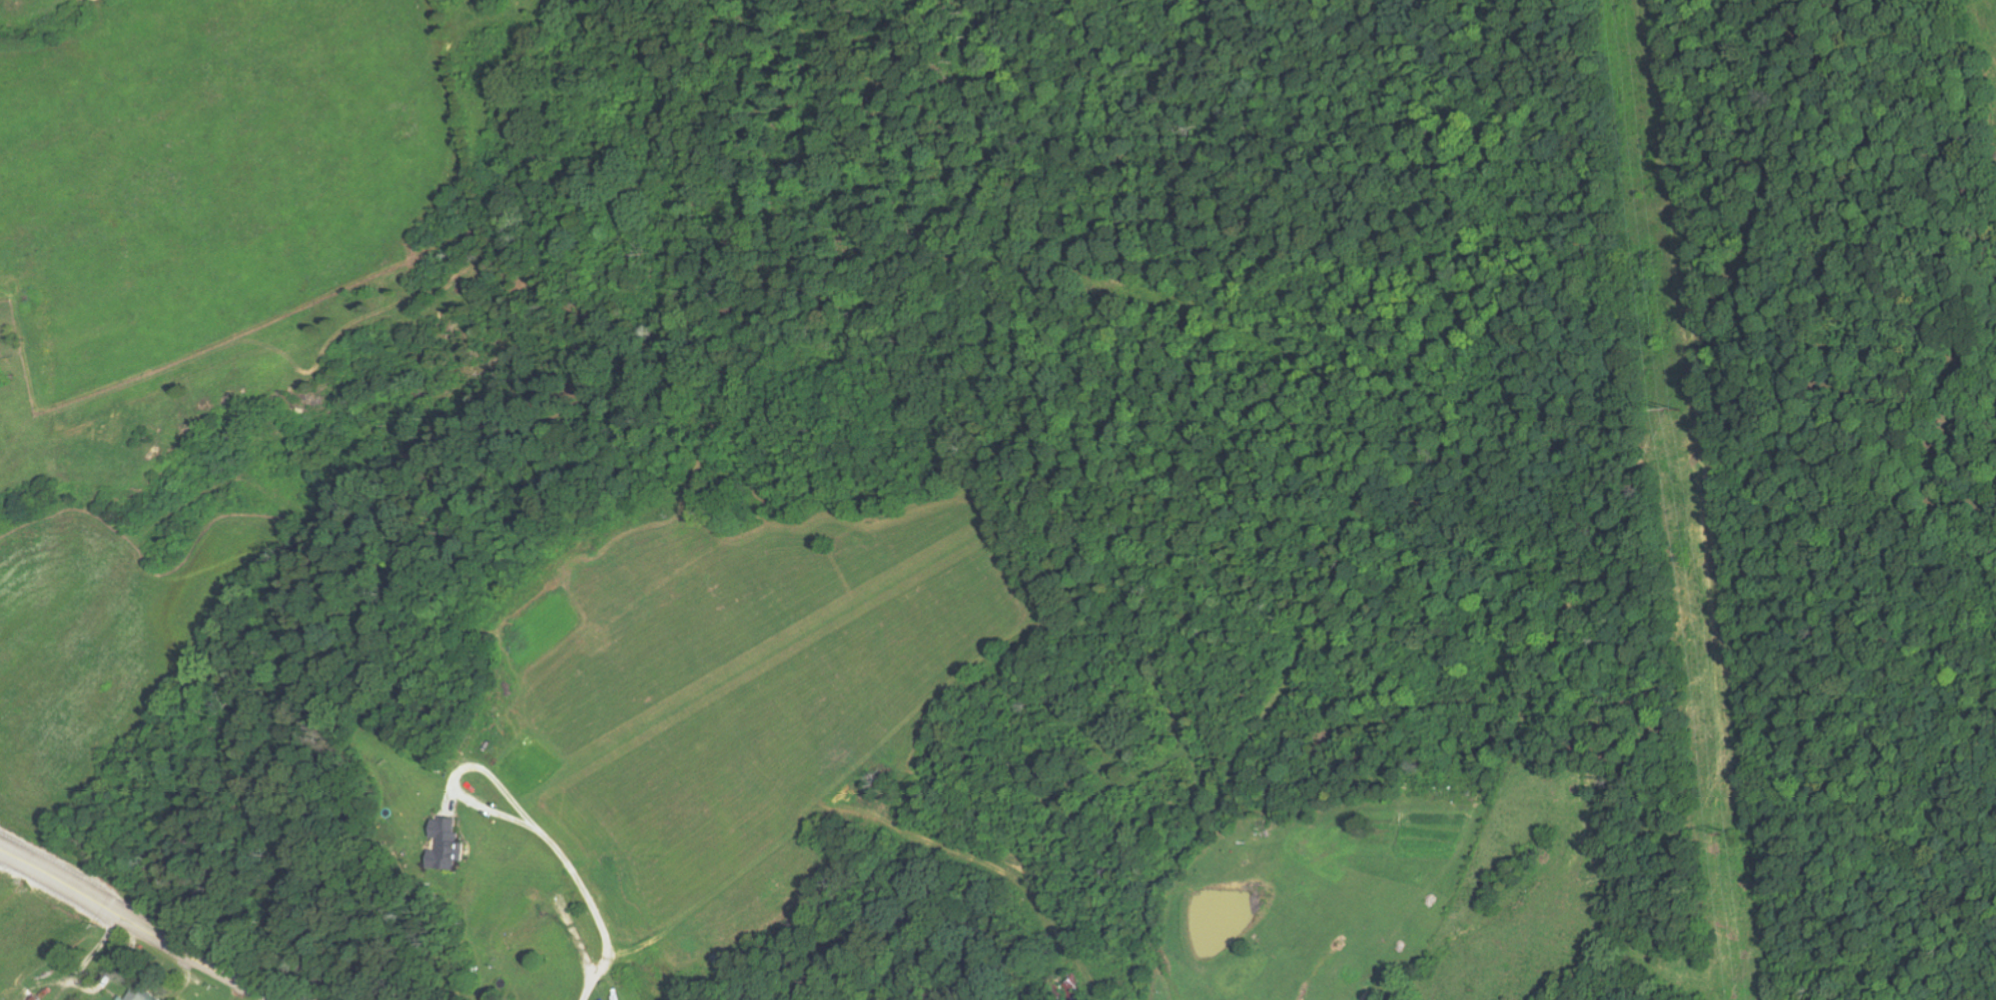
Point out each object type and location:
power tower: (1682, 408)
power tower: (1733, 830)
building: (447, 843)
road: (138, 923)
building: (141, 992)
building: (36, 998)

